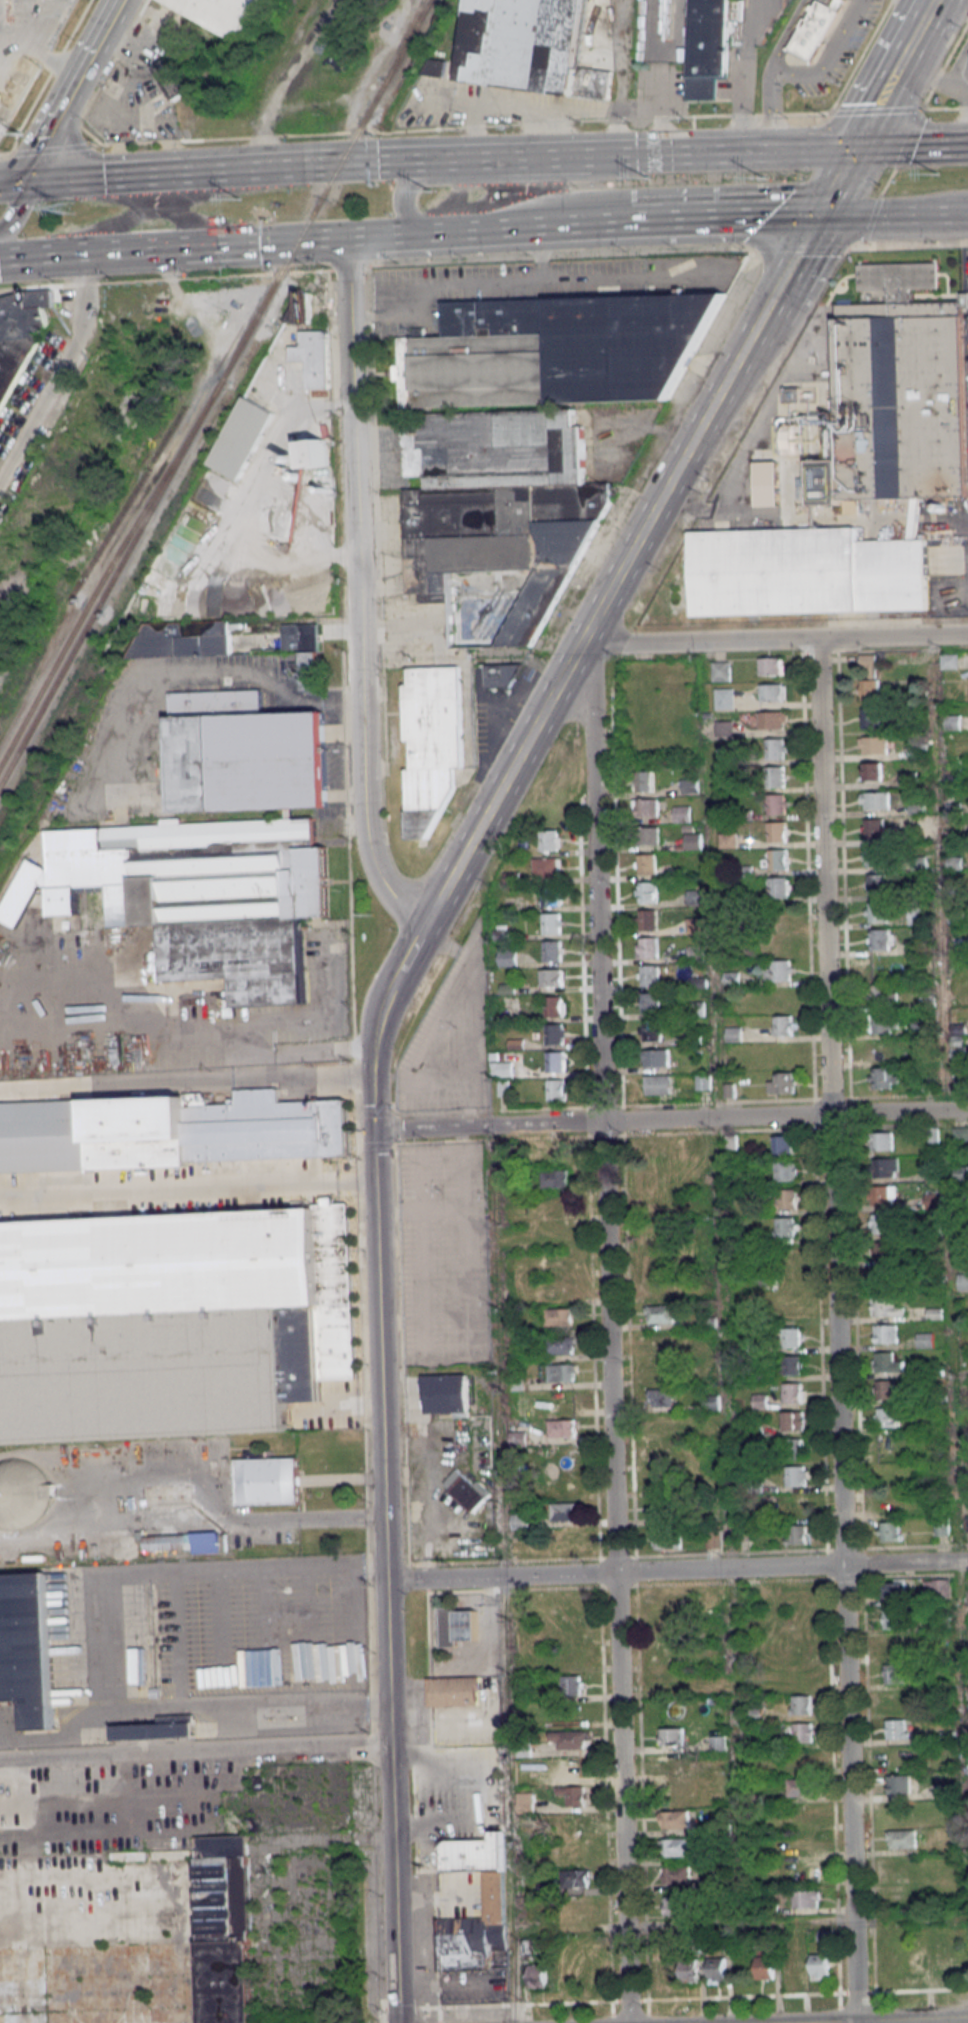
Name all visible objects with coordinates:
road: (925, 3)
road: (949, 9)
building: (222, 13)
road: (751, 22)
building: (814, 29)
road: (42, 42)
building: (530, 47)
building: (707, 47)
road: (54, 64)
building: (436, 67)
road: (892, 74)
road: (799, 75)
road: (942, 75)
road: (617, 77)
building: (171, 78)
road: (961, 86)
road: (72, 90)
road: (743, 98)
road: (516, 105)
road: (658, 107)
road: (944, 108)
road: (874, 109)
road: (459, 128)
road: (546, 132)
power tower: (20, 135)
road: (910, 146)
road: (48, 149)
traffic signals: (852, 149)
road: (718, 152)
road: (4, 154)
road: (506, 158)
road: (301, 166)
power tower: (937, 174)
road: (102, 178)
road: (501, 178)
power tower: (642, 178)
power tower: (760, 178)
road: (834, 181)
traffic signals: (28, 183)
road: (14, 184)
power tower: (433, 192)
power tower: (241, 201)
road: (16, 208)
power tower: (67, 210)
traffic signals: (816, 214)
road: (892, 214)
road: (728, 216)
road: (598, 221)
road: (474, 228)
road: (371, 234)
road: (232, 241)
road: (58, 251)
road: (790, 258)
road: (483, 261)
road: (525, 281)
road: (403, 288)
building: (303, 306)
building: (19, 335)
building: (313, 356)
railway: (215, 394)
building: (894, 395)
road: (646, 427)
building: (242, 438)
building: (797, 439)
building: (525, 445)
building: (316, 453)
building: (766, 483)
building: (803, 572)
road: (360, 590)
railway: (94, 592)
road: (596, 614)
building: (304, 634)
building: (190, 639)
road: (773, 640)
building: (867, 660)
building: (948, 661)
building: (769, 666)
building: (311, 671)
building: (720, 671)
road: (255, 675)
building: (494, 676)
building: (869, 690)
building: (769, 693)
building: (724, 698)
building: (870, 717)
building: (770, 720)
building: (723, 728)
building: (431, 743)
building: (873, 745)
building: (773, 749)
building: (243, 753)
building: (874, 771)
building: (773, 776)
building: (643, 781)
building: (688, 786)
building: (874, 800)
building: (775, 804)
building: (645, 807)
building: (682, 813)
building: (874, 828)
building: (775, 832)
building: (647, 835)
building: (550, 840)
building: (727, 840)
building: (692, 841)
building: (873, 855)
building: (776, 859)
building: (646, 864)
building: (546, 868)
road: (595, 884)
building: (875, 884)
building: (777, 887)
building: (646, 892)
building: (196, 895)
building: (551, 896)
building: (695, 897)
building: (876, 912)
building: (780, 918)
building: (648, 919)
building: (552, 923)
building: (695, 925)
building: (881, 939)
building: (779, 942)
road: (413, 947)
building: (647, 947)
building: (552, 950)
building: (696, 952)
building: (507, 957)
building: (883, 967)
building: (779, 971)
building: (649, 975)
building: (732, 976)
building: (551, 977)
building: (883, 995)
road: (459, 996)
building: (650, 1002)
road: (382, 1003)
building: (554, 1006)
building: (883, 1023)
building: (783, 1025)
road: (191, 1030)
building: (650, 1030)
building: (554, 1034)
building: (733, 1034)
parking lot: (450, 1040)
building: (883, 1050)
building: (655, 1057)
building: (555, 1062)
building: (502, 1069)
building: (883, 1078)
building: (781, 1082)
road: (185, 1083)
building: (658, 1084)
building: (555, 1089)
road: (719, 1104)
road: (670, 1119)
traffic signals: (373, 1130)
building: (170, 1131)
building: (960, 1135)
building: (882, 1141)
building: (783, 1144)
building: (656, 1148)
building: (703, 1150)
building: (885, 1167)
building: (786, 1171)
building: (655, 1175)
road: (466, 1179)
building: (555, 1179)
road: (422, 1181)
road: (187, 1186)
building: (883, 1195)
building: (787, 1198)
building: (656, 1203)
building: (556, 1206)
road: (421, 1210)
building: (880, 1223)
building: (787, 1226)
building: (655, 1231)
building: (887, 1251)
building: (788, 1254)
parking lot: (443, 1255)
building: (655, 1259)
building: (558, 1262)
building: (881, 1279)
building: (789, 1282)
building: (963, 1282)
road: (469, 1283)
road: (426, 1284)
building: (657, 1287)
building: (559, 1289)
building: (886, 1307)
building: (790, 1310)
building: (660, 1313)
building: (559, 1317)
building: (171, 1320)
road: (836, 1331)
building: (886, 1334)
building: (791, 1336)
building: (924, 1340)
building: (660, 1341)
building: (560, 1345)
building: (886, 1363)
building: (791, 1365)
building: (659, 1369)
building: (561, 1372)
building: (886, 1389)
building: (793, 1392)
building: (446, 1395)
building: (662, 1397)
building: (562, 1400)
building: (887, 1417)
building: (793, 1421)
building: (662, 1425)
building: (562, 1428)
building: (517, 1438)
building: (890, 1445)
building: (794, 1449)
building: (562, 1455)
building: (891, 1473)
building: (796, 1475)
building: (663, 1480)
building: (267, 1481)
building: (565, 1483)
building: (464, 1490)
building: (20, 1493)
building: (892, 1501)
building: (796, 1504)
building: (666, 1509)
building: (564, 1512)
building: (518, 1520)
building: (941, 1528)
building: (890, 1531)
road: (383, 1532)
building: (797, 1534)
building: (713, 1539)
building: (666, 1540)
building: (182, 1542)
building: (566, 1543)
road: (676, 1570)
road: (615, 1572)
road: (502, 1574)
building: (936, 1588)
building: (893, 1590)
building: (665, 1601)
building: (569, 1605)
building: (893, 1618)
building: (797, 1622)
building: (465, 1625)
building: (665, 1626)
building: (568, 1631)
building: (895, 1646)
building: (27, 1649)
building: (664, 1654)
building: (569, 1657)
building: (522, 1666)
building: (895, 1673)
building: (800, 1676)
building: (669, 1681)
building: (571, 1685)
building: (453, 1691)
building: (896, 1701)
building: (800, 1704)
road: (188, 1709)
building: (896, 1728)
building: (158, 1729)
building: (803, 1732)
building: (671, 1736)
building: (568, 1739)
road: (194, 1746)
building: (896, 1756)
building: (801, 1760)
building: (671, 1764)
building: (572, 1767)
building: (898, 1784)
road: (480, 1785)
building: (800, 1787)
building: (676, 1791)
building: (572, 1795)
building: (797, 1815)
building: (674, 1819)
building: (571, 1822)
building: (901, 1838)
building: (804, 1843)
building: (675, 1847)
building: (902, 1866)
building: (804, 1870)
building: (675, 1875)
building: (575, 1878)
building: (494, 1894)
building: (806, 1898)
building: (673, 1906)
building: (577, 1909)
road: (740, 1925)
building: (126, 1934)
building: (944, 1961)
building: (916, 1962)
building: (764, 1967)
building: (792, 1967)
building: (820, 1967)
building: (663, 1970)
building: (688, 1970)
building: (716, 1970)
building: (536, 1975)
building: (562, 1975)
road: (873, 2000)
road: (897, 2020)

